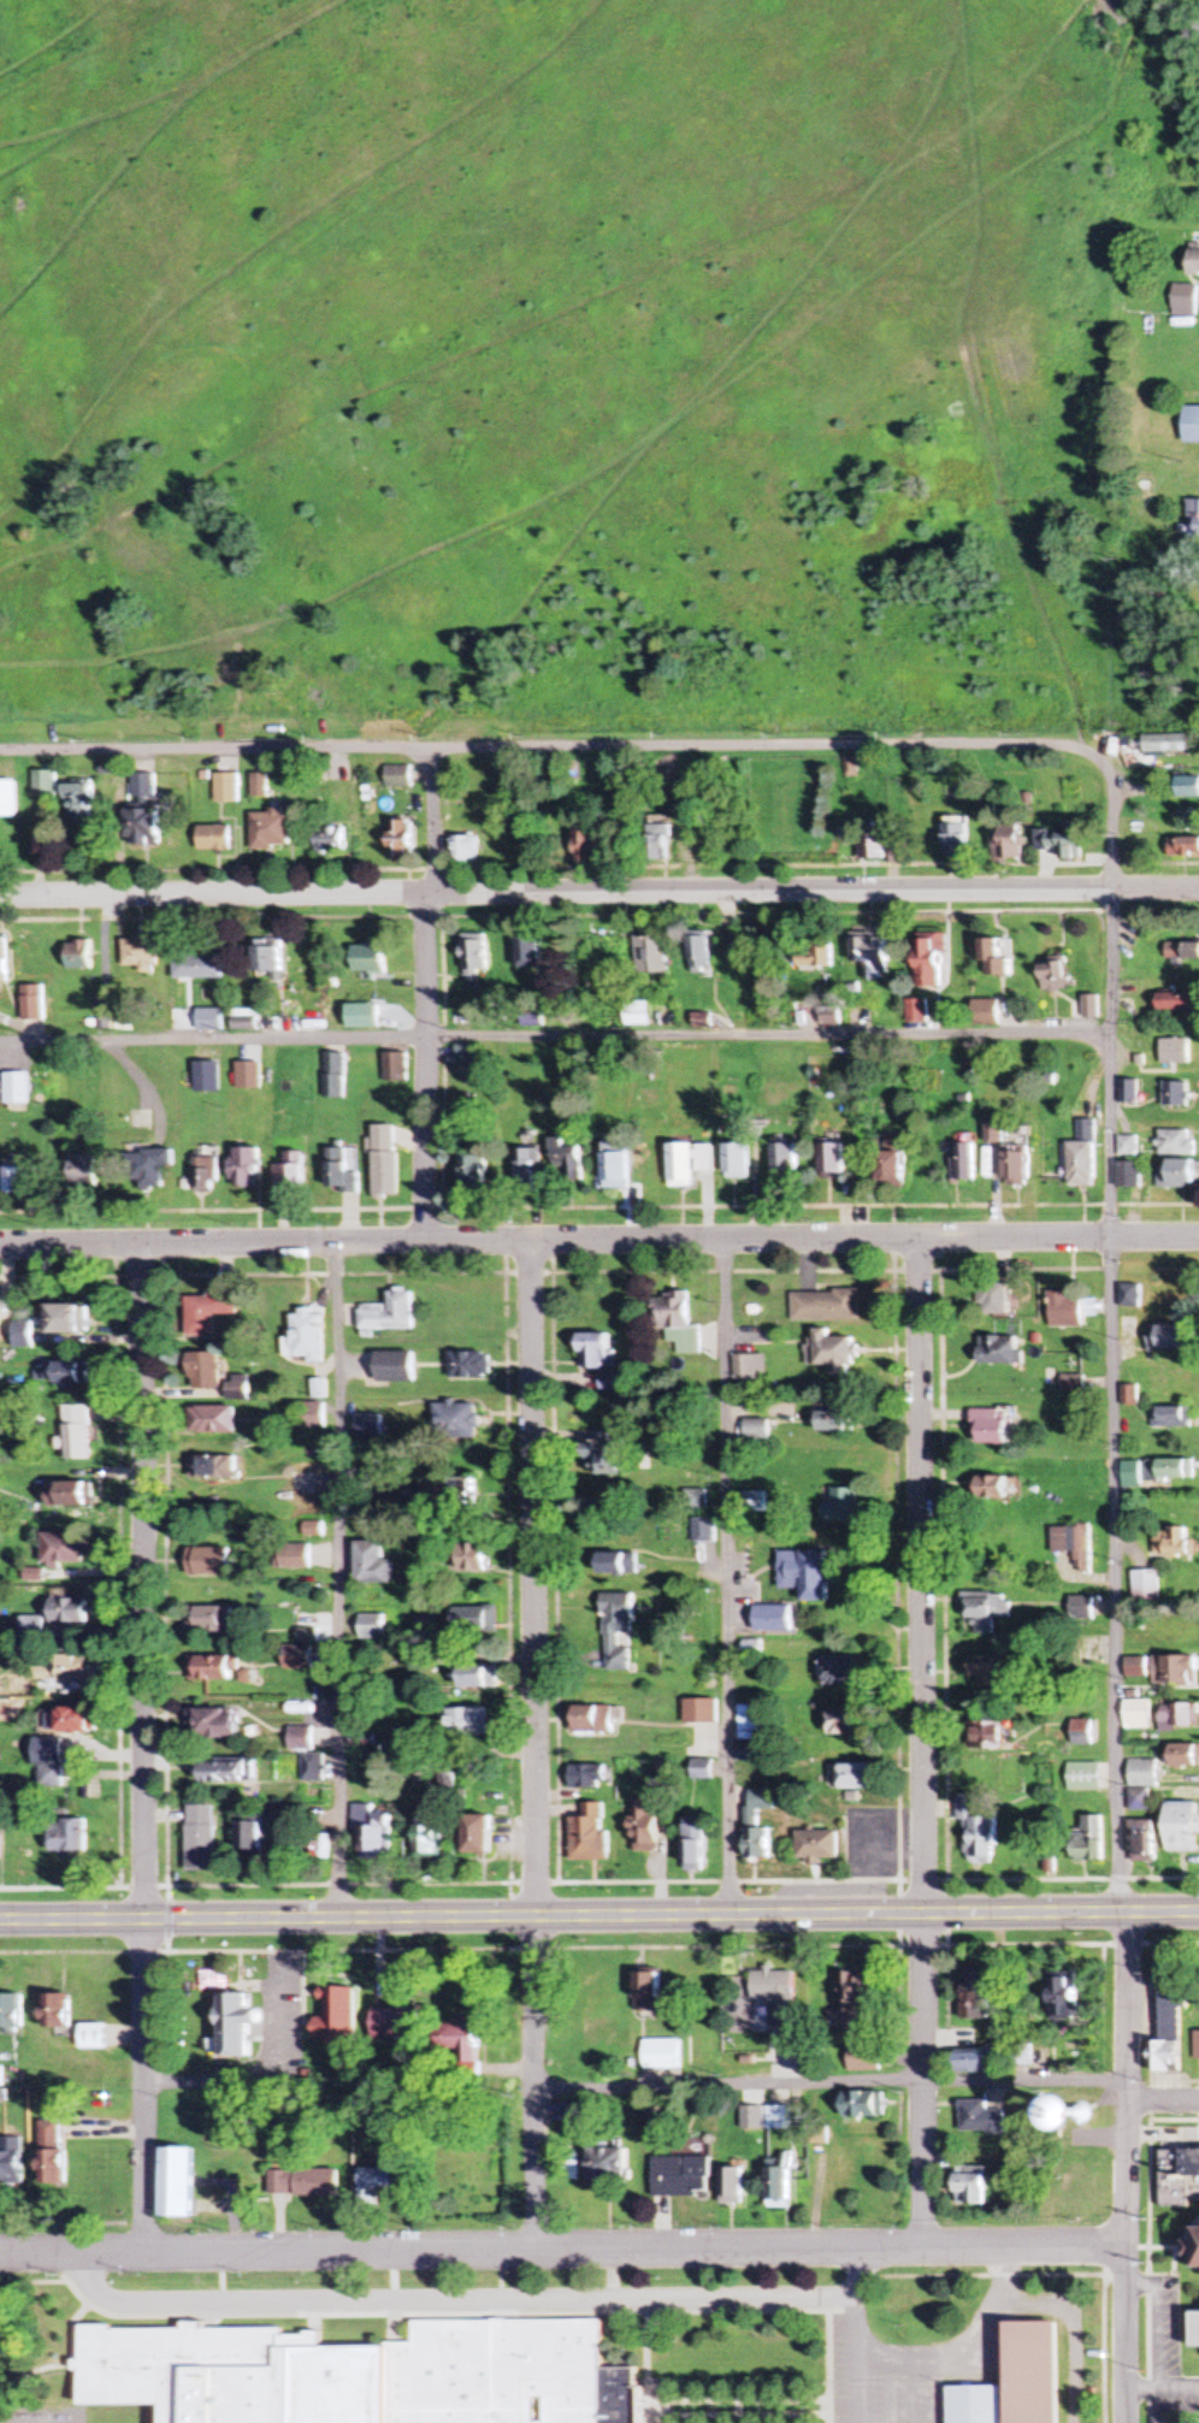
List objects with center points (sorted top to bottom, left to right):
building: (1193, 262)
building: (1185, 297)
building: (1192, 425)
building: (1194, 520)
building: (1166, 743)
road: (616, 747)
building: (400, 778)
building: (47, 784)
building: (147, 786)
building: (1188, 787)
building: (228, 788)
building: (260, 788)
building: (10, 798)
building: (83, 804)
building: (146, 827)
building: (271, 831)
building: (215, 838)
building: (331, 839)
building: (956, 839)
building: (401, 841)
building: (660, 841)
building: (1008, 841)
building: (590, 844)
building: (1061, 844)
building: (874, 846)
building: (1182, 846)
building: (467, 849)
road: (598, 892)
building: (727, 929)
building: (528, 950)
building: (1182, 951)
building: (701, 952)
building: (816, 953)
building: (78, 955)
building: (140, 955)
building: (654, 955)
building: (478, 956)
building: (873, 957)
building: (2, 958)
building: (268, 958)
building: (367, 958)
building: (994, 959)
building: (931, 962)
building: (196, 967)
building: (563, 967)
building: (1056, 976)
road: (425, 993)
building: (33, 1003)
building: (1179, 1003)
building: (1126, 1010)
building: (919, 1011)
building: (637, 1012)
building: (986, 1012)
building: (361, 1016)
building: (208, 1020)
building: (243, 1023)
road: (554, 1036)
building: (1176, 1051)
building: (463, 1053)
building: (392, 1068)
building: (247, 1075)
building: (332, 1076)
building: (205, 1077)
building: (17, 1088)
building: (1130, 1092)
building: (1177, 1094)
building: (1087, 1129)
building: (996, 1133)
building: (894, 1141)
building: (1177, 1142)
building: (782, 1158)
building: (565, 1160)
building: (734, 1160)
building: (384, 1162)
building: (831, 1162)
building: (964, 1162)
building: (680, 1164)
building: (1083, 1164)
building: (527, 1166)
building: (149, 1168)
building: (207, 1168)
building: (246, 1168)
building: (82, 1169)
building: (615, 1169)
building: (1018, 1169)
building: (472, 1170)
building: (891, 1170)
building: (289, 1172)
building: (339, 1172)
building: (1132, 1174)
building: (1177, 1174)
building: (17, 1176)
road: (598, 1240)
building: (1133, 1296)
building: (994, 1299)
building: (826, 1306)
building: (207, 1311)
building: (1068, 1311)
building: (388, 1313)
building: (69, 1319)
building: (677, 1322)
building: (23, 1335)
building: (305, 1335)
building: (1168, 1337)
building: (596, 1351)
building: (1000, 1351)
building: (833, 1352)
building: (467, 1364)
building: (391, 1366)
building: (744, 1369)
building: (202, 1371)
building: (66, 1372)
building: (612, 1381)
building: (1071, 1383)
building: (235, 1388)
road: (1112, 1401)
building: (371, 1411)
building: (309, 1416)
building: (1171, 1417)
building: (209, 1420)
building: (454, 1420)
building: (838, 1420)
building: (990, 1426)
building: (758, 1430)
building: (75, 1432)
building: (602, 1452)
building: (211, 1468)
building: (1158, 1471)
building: (302, 1485)
building: (998, 1488)
building: (66, 1495)
building: (698, 1501)
building: (841, 1507)
building: (313, 1530)
building: (703, 1530)
building: (1174, 1543)
building: (1073, 1546)
building: (59, 1550)
building: (291, 1558)
building: (471, 1558)
building: (211, 1561)
building: (616, 1564)
building: (371, 1565)
building: (805, 1574)
road: (726, 1576)
road: (336, 1580)
building: (1145, 1585)
building: (1080, 1608)
building: (984, 1611)
building: (66, 1612)
building: (211, 1619)
building: (773, 1619)
building: (476, 1621)
building: (615, 1621)
building: (31, 1626)
building: (371, 1627)
building: (750, 1650)
building: (296, 1657)
building: (61, 1668)
building: (1135, 1668)
building: (213, 1669)
building: (1173, 1671)
building: (838, 1673)
building: (988, 1673)
building: (476, 1677)
building: (698, 1712)
building: (1136, 1715)
building: (1179, 1716)
building: (587, 1719)
building: (70, 1720)
building: (841, 1722)
building: (213, 1724)
building: (465, 1724)
building: (746, 1732)
building: (1080, 1733)
building: (982, 1736)
building: (300, 1739)
road: (921, 1743)
road: (531, 1744)
road: (143, 1748)
building: (1183, 1756)
building: (46, 1762)
building: (312, 1767)
building: (699, 1771)
building: (226, 1772)
building: (1141, 1774)
building: (855, 1777)
building: (583, 1778)
building: (1082, 1778)
building: (1138, 1799)
building: (750, 1820)
building: (640, 1827)
building: (1181, 1828)
building: (370, 1830)
building: (974, 1830)
building: (584, 1833)
building: (426, 1834)
building: (474, 1834)
building: (66, 1836)
building: (249, 1838)
building: (200, 1839)
building: (1088, 1840)
building: (1141, 1842)
building: (690, 1845)
building: (816, 1846)
road: (599, 1915)
building: (645, 1991)
building: (774, 1996)
building: (856, 1996)
building: (973, 1996)
building: (1062, 1997)
building: (57, 2011)
building: (11, 2014)
building: (337, 2017)
building: (392, 2025)
building: (235, 2026)
building: (1166, 2027)
building: (93, 2037)
building: (462, 2041)
building: (1195, 2045)
building: (660, 2055)
building: (863, 2059)
building: (975, 2062)
road: (1127, 2080)
road: (636, 2084)
building: (0, 2086)
road: (1164, 2103)
building: (863, 2104)
building: (571, 2114)
building: (1118, 2114)
building: (778, 2118)
building: (979, 2118)
building: (746, 2123)
building: (49, 2153)
building: (10, 2162)
building: (606, 2168)
building: (679, 2176)
building: (1181, 2177)
building: (391, 2180)
building: (177, 2183)
building: (313, 2183)
building: (730, 2186)
building: (973, 2186)
building: (776, 2187)
building: (1063, 2189)
road: (562, 2248)
building: (1194, 2250)
building: (1197, 2330)
road: (1126, 2334)
building: (1035, 2372)
building: (361, 2375)
building: (976, 2405)

